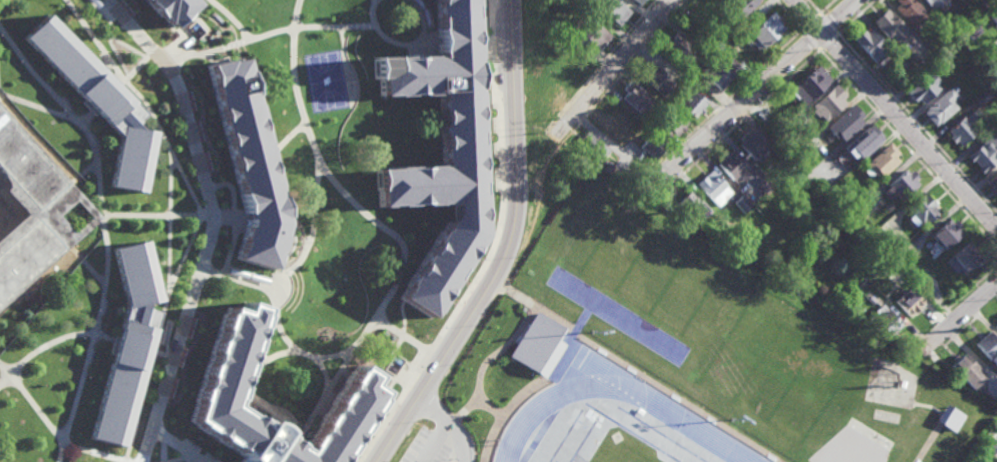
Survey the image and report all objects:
building: (959, 0)
building: (638, 1)
building: (633, 2)
building: (933, 2)
building: (987, 3)
road: (816, 6)
road: (828, 6)
building: (173, 9)
building: (735, 9)
building: (611, 11)
building: (910, 11)
road: (787, 15)
road: (839, 15)
road: (857, 16)
road: (239, 17)
building: (993, 17)
building: (967, 19)
road: (811, 20)
road: (829, 21)
building: (889, 26)
road: (300, 27)
building: (972, 30)
building: (764, 31)
building: (588, 32)
road: (406, 39)
road: (810, 39)
road: (115, 40)
road: (829, 40)
building: (870, 44)
building: (679, 46)
building: (989, 49)
road: (609, 54)
road: (187, 56)
building: (942, 56)
road: (636, 58)
road: (348, 63)
building: (727, 64)
road: (613, 67)
building: (902, 71)
road: (123, 74)
building: (715, 75)
building: (996, 78)
road: (296, 79)
building: (655, 79)
building: (684, 84)
building: (807, 85)
building: (921, 88)
building: (980, 96)
road: (728, 98)
building: (636, 99)
building: (100, 103)
building: (691, 104)
building: (826, 104)
road: (741, 105)
building: (939, 106)
road: (895, 114)
road: (746, 118)
road: (917, 121)
building: (617, 122)
building: (842, 124)
building: (668, 126)
building: (962, 127)
road: (537, 136)
building: (789, 144)
building: (859, 144)
building: (591, 146)
building: (650, 146)
building: (753, 146)
road: (909, 149)
building: (800, 153)
building: (984, 154)
building: (462, 161)
building: (878, 162)
road: (98, 164)
building: (250, 164)
building: (785, 164)
building: (732, 166)
building: (845, 167)
road: (203, 171)
building: (992, 182)
building: (899, 184)
building: (762, 185)
building: (712, 189)
road: (78, 190)
road: (357, 203)
building: (741, 205)
building: (858, 207)
building: (690, 208)
building: (918, 211)
road: (84, 212)
building: (35, 213)
road: (174, 214)
road: (200, 215)
road: (209, 215)
building: (879, 230)
road: (194, 235)
building: (943, 235)
road: (405, 249)
road: (508, 249)
road: (494, 250)
road: (306, 251)
building: (902, 254)
road: (50, 257)
building: (963, 258)
building: (872, 264)
road: (241, 277)
building: (920, 285)
road: (390, 292)
building: (906, 303)
road: (959, 314)
building: (883, 323)
road: (403, 334)
building: (129, 342)
building: (538, 345)
road: (42, 348)
road: (264, 348)
building: (988, 348)
road: (279, 354)
road: (308, 354)
park: (797, 361)
building: (966, 371)
road: (325, 373)
road: (147, 377)
track: (611, 379)
building: (222, 381)
park: (890, 383)
road: (76, 398)
road: (32, 400)
road: (159, 413)
park: (579, 413)
park: (598, 414)
road: (313, 416)
building: (949, 418)
road: (453, 419)
track: (626, 428)
track: (658, 431)
track: (565, 436)
track: (536, 438)
road: (436, 439)
park: (595, 440)
track: (581, 442)
building: (988, 444)
road: (181, 445)
track: (532, 445)
track: (558, 445)
park: (853, 445)
parking lot: (431, 448)
park: (624, 448)
road: (98, 452)
park: (673, 456)
track: (673, 457)
park: (706, 458)
track: (703, 459)
park: (587, 460)
building: (84, 461)
park: (592, 461)

